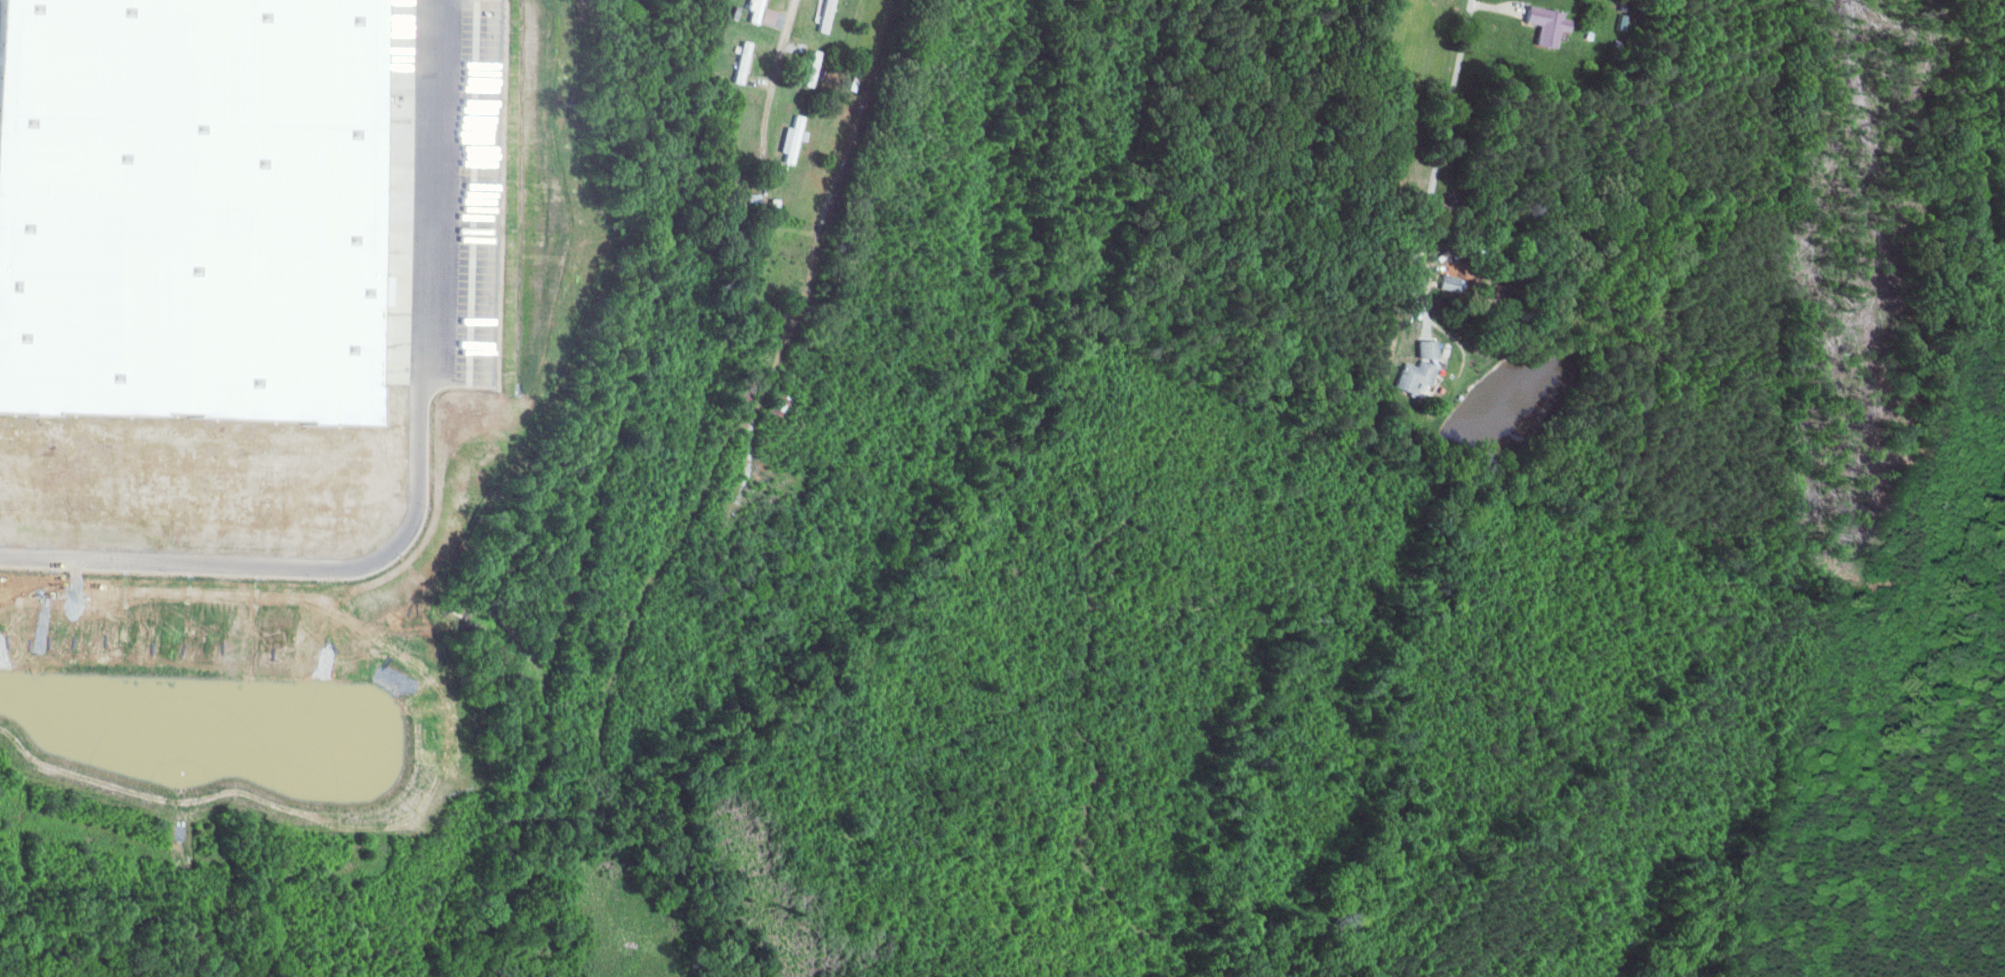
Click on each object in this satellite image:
building: (757, 13)
building: (822, 16)
building: (1543, 24)
building: (738, 62)
road: (779, 66)
building: (809, 68)
building: (790, 139)
road: (1442, 142)
building: (1448, 283)
building: (1415, 368)
road: (417, 474)

